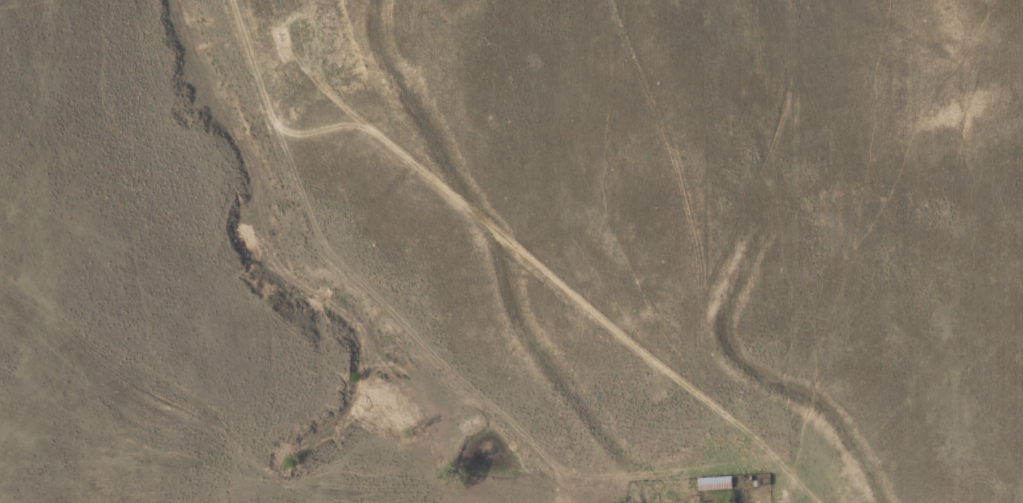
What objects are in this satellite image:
building: (717, 483)

